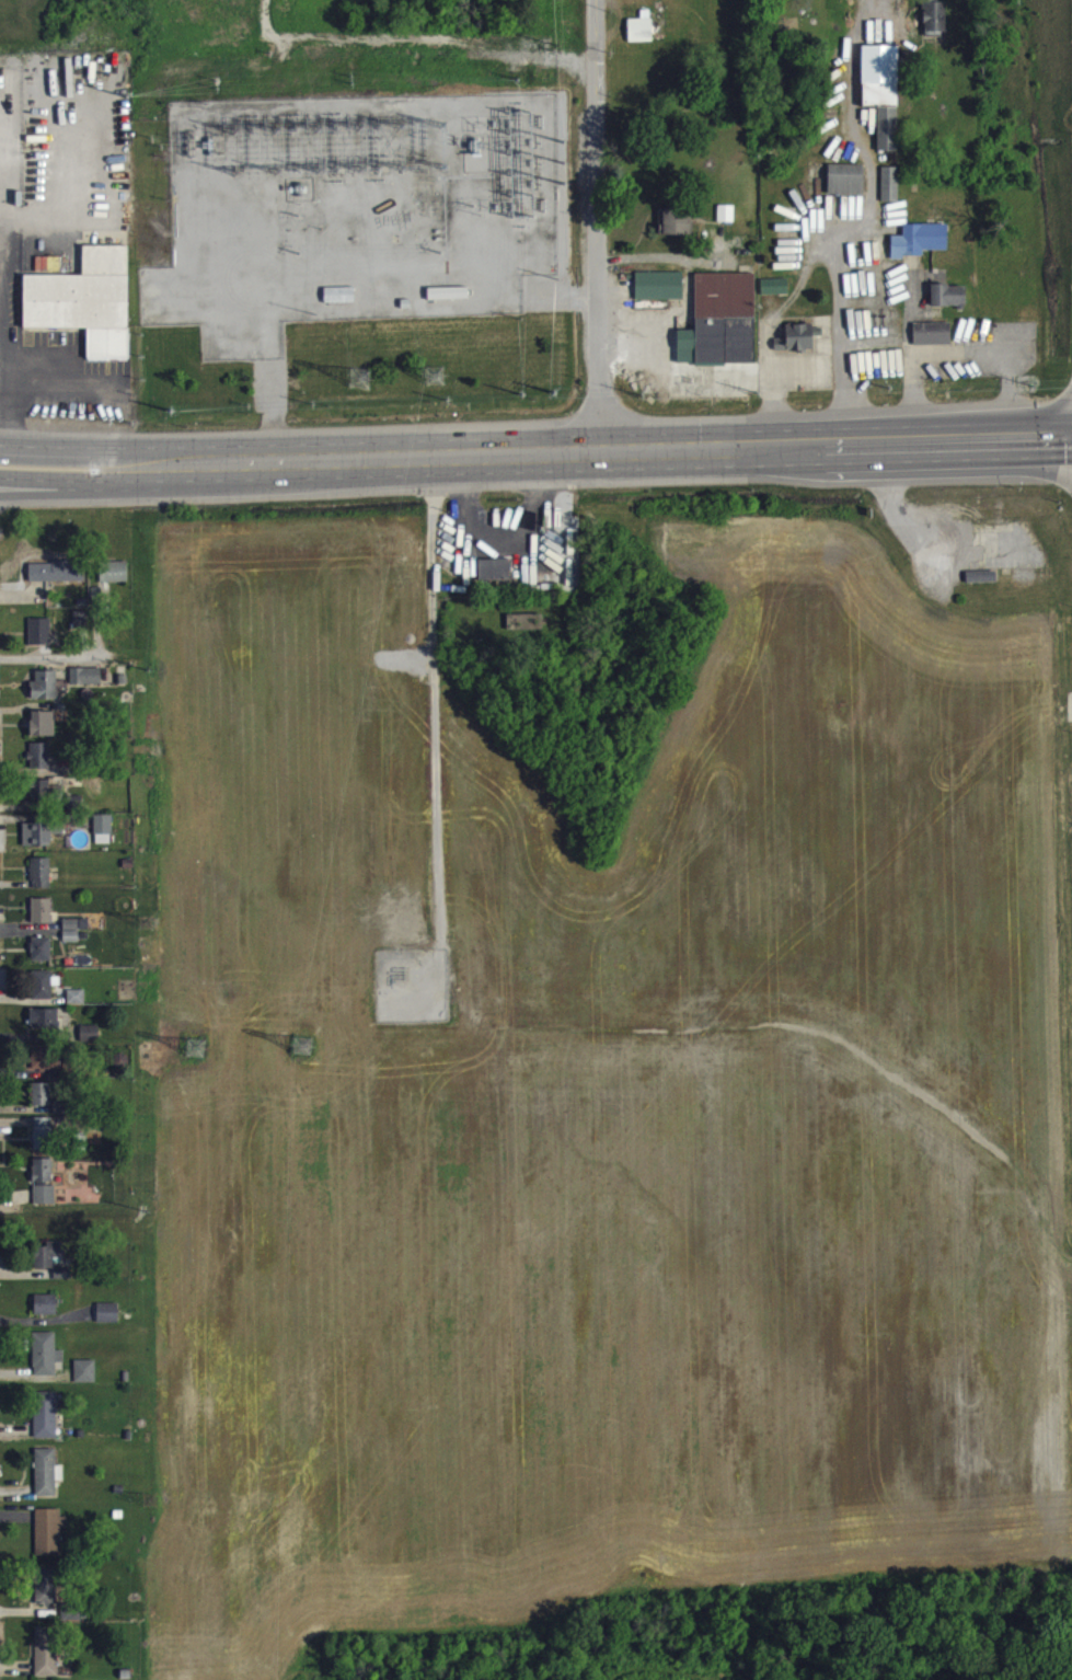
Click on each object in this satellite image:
building: (935, 28)
building: (642, 37)
road: (856, 71)
power tower: (518, 77)
power tower: (350, 78)
power tower: (217, 80)
building: (37, 88)
building: (62, 88)
power tower: (126, 94)
building: (885, 114)
power tower: (564, 160)
power tower: (563, 181)
building: (846, 187)
building: (890, 193)
power tower: (472, 203)
power tower: (298, 212)
power substation: (353, 214)
road: (597, 226)
building: (677, 230)
power tower: (440, 248)
power tower: (298, 249)
building: (920, 249)
building: (659, 295)
building: (775, 295)
building: (949, 303)
building: (87, 310)
building: (722, 329)
road: (850, 329)
building: (933, 342)
building: (797, 346)
power tower: (435, 376)
power tower: (360, 377)
road: (59, 380)
power tower: (552, 391)
power tower: (170, 410)
road: (76, 442)
road: (609, 450)
road: (32, 481)
road: (107, 481)
road: (32, 486)
building: (496, 578)
building: (57, 579)
building: (981, 585)
building: (109, 587)
building: (81, 629)
building: (526, 631)
building: (41, 640)
power tower: (148, 668)
building: (87, 684)
building: (46, 694)
building: (43, 732)
building: (41, 764)
building: (44, 799)
building: (104, 837)
building: (38, 843)
building: (42, 881)
building: (42, 919)
power tower: (145, 920)
building: (42, 957)
power substation: (411, 983)
building: (43, 993)
building: (77, 1005)
building: (45, 1026)
power tower: (198, 1045)
power tower: (302, 1045)
building: (46, 1068)
building: (43, 1102)
building: (44, 1141)
building: (43, 1178)
building: (45, 1204)
power tower: (147, 1209)
building: (48, 1263)
building: (46, 1313)
building: (108, 1321)
building: (46, 1362)
building: (85, 1380)
building: (46, 1424)
building: (47, 1481)
power tower: (150, 1498)
building: (49, 1540)
building: (47, 1595)
building: (47, 1657)

